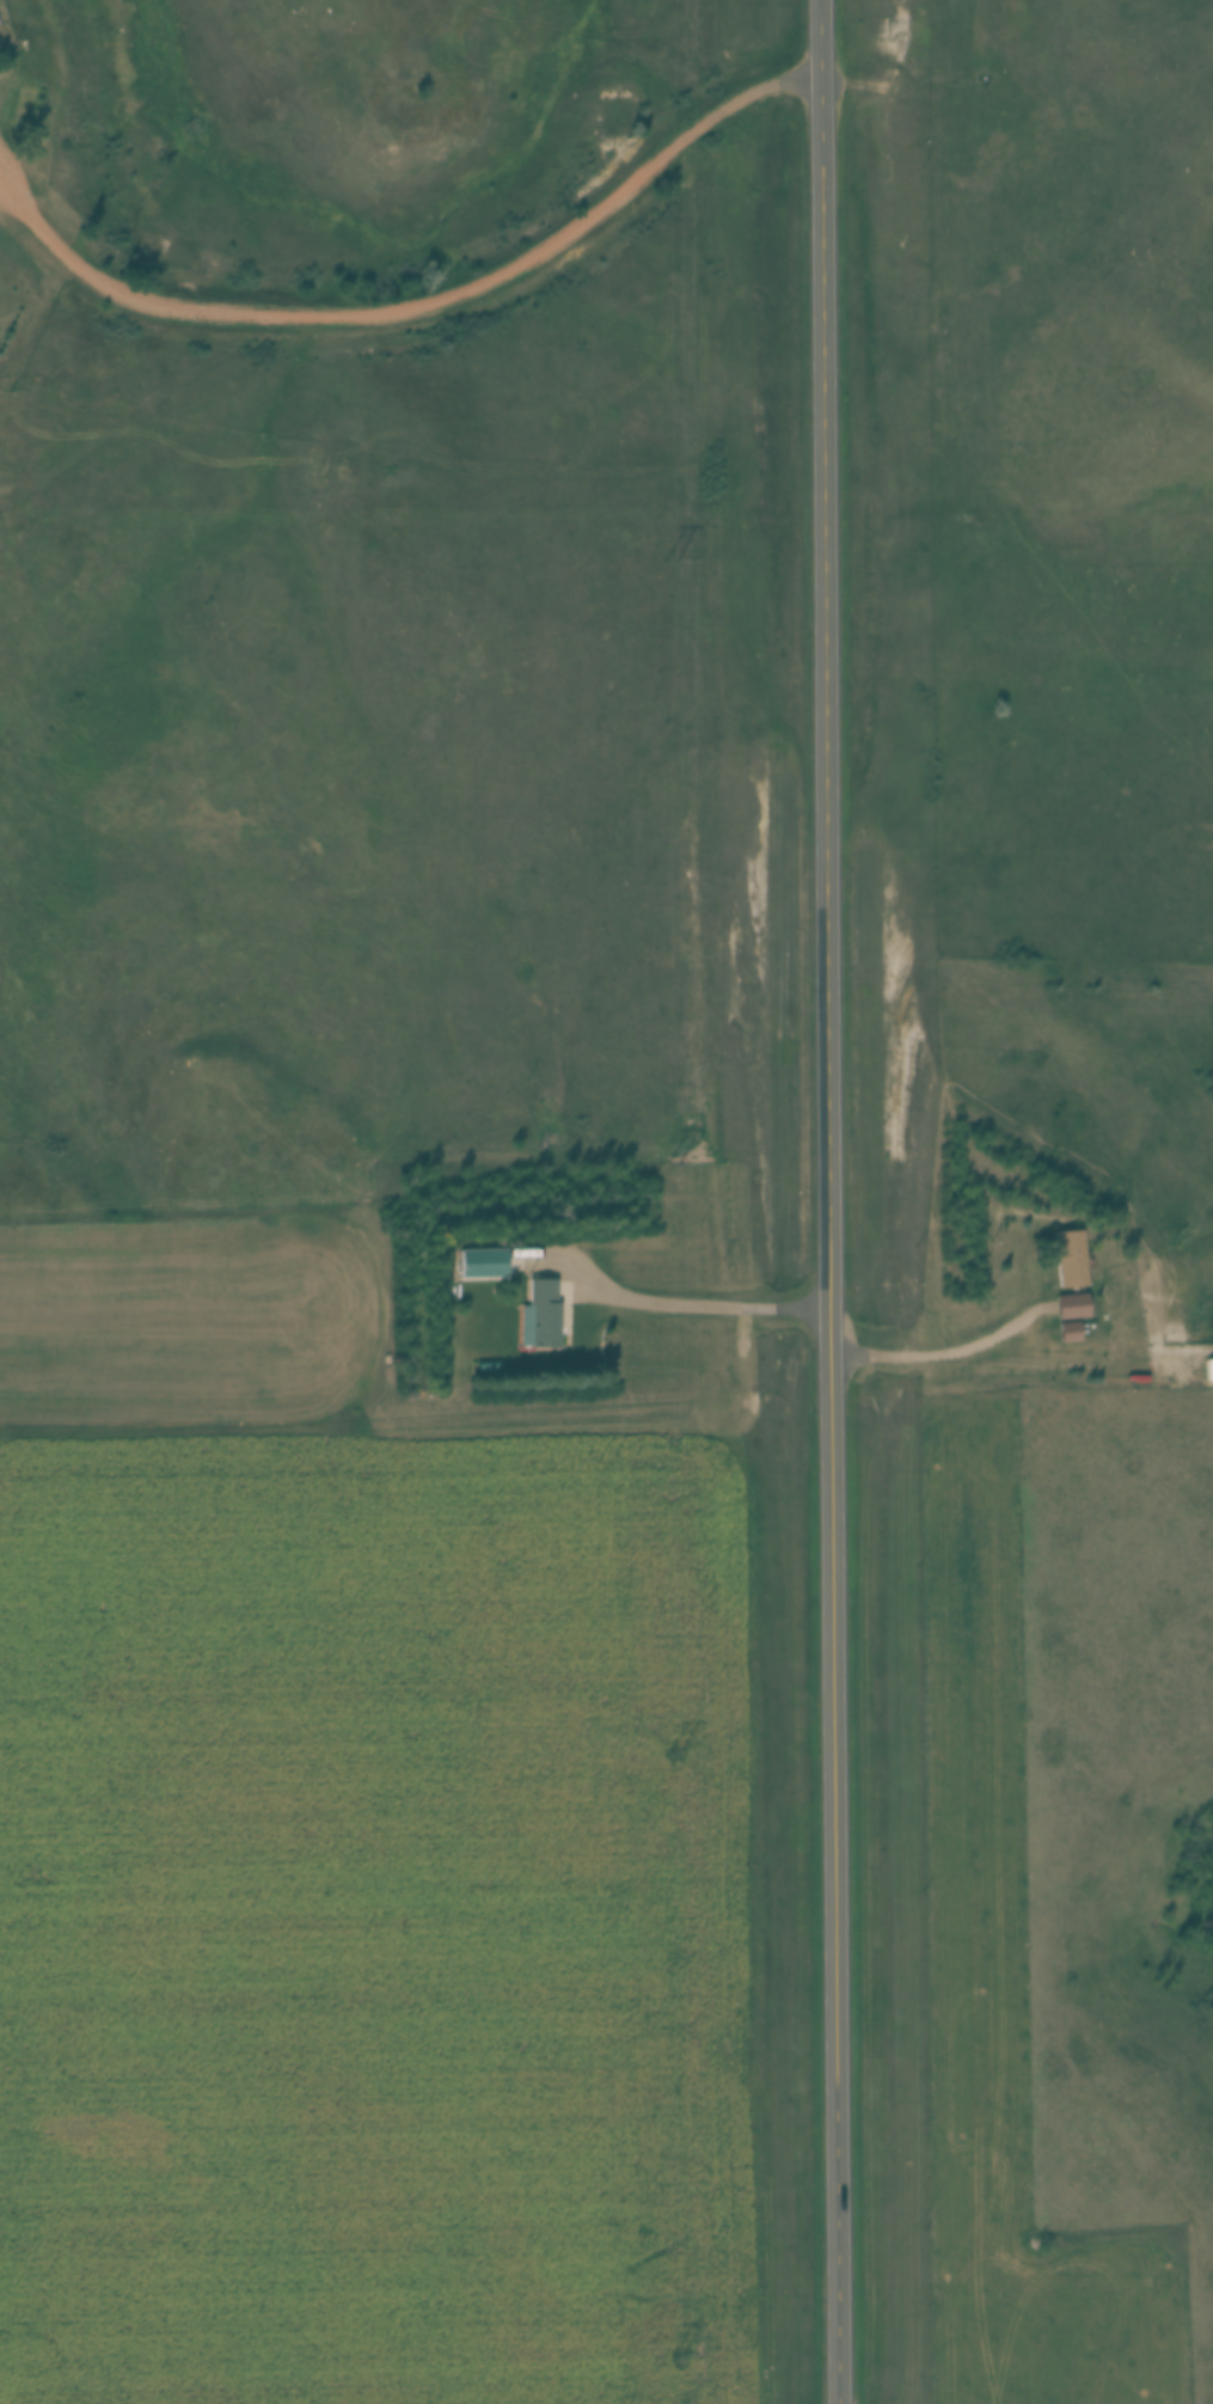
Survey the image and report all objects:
building: (19, 112)
road: (425, 302)
road: (832, 1201)
building: (1080, 1267)
road: (711, 1303)
building: (1067, 1304)
building: (543, 1314)
road: (1079, 1341)
road: (948, 1350)
building: (1206, 1369)

